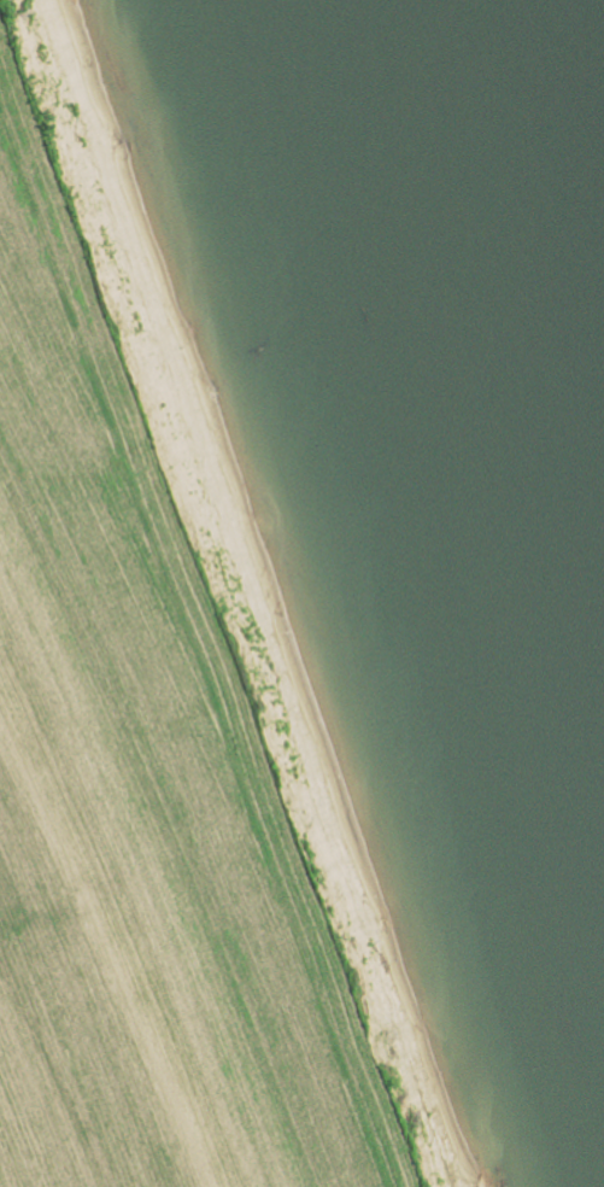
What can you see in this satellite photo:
crop: (166, 725)

